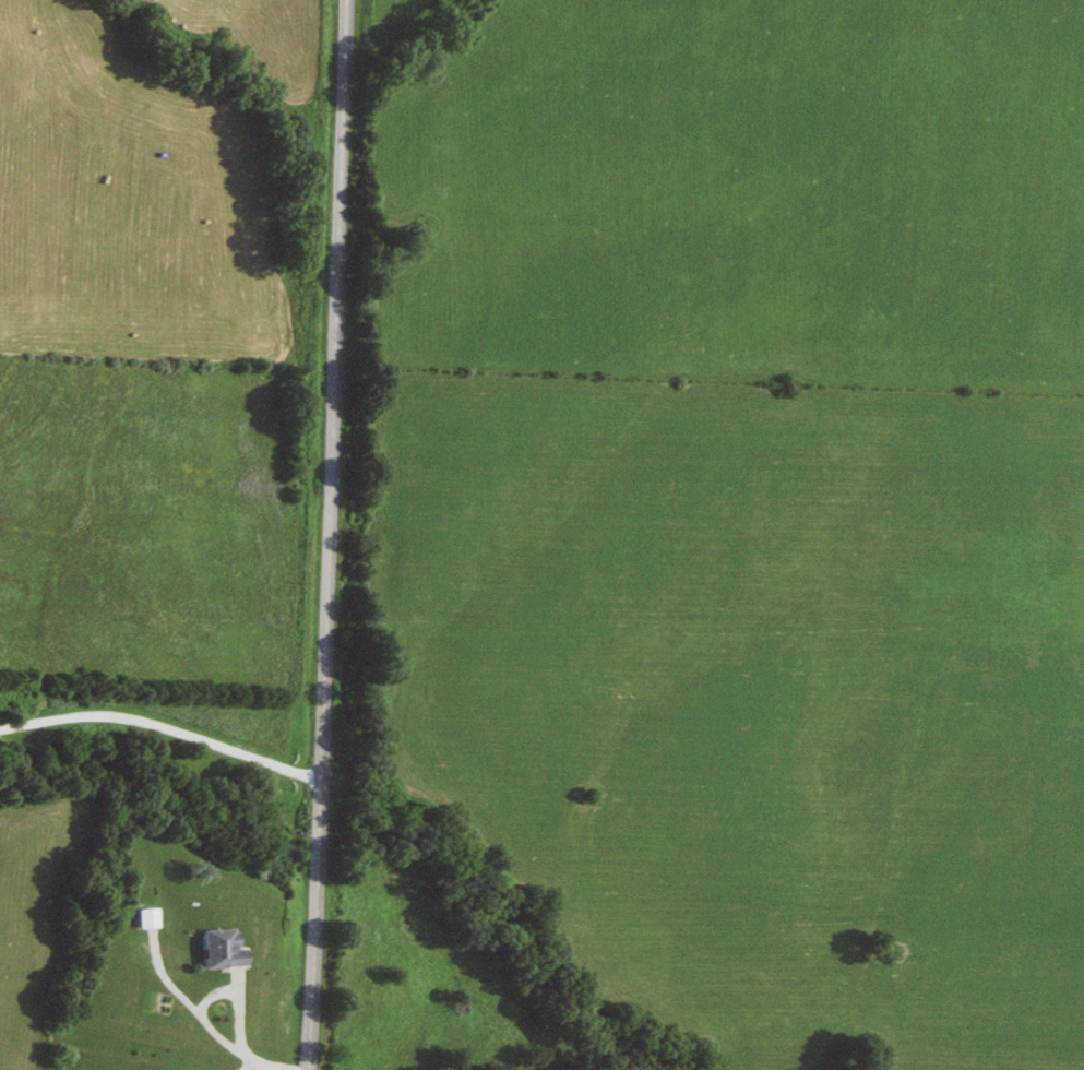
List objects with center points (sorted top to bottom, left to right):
road: (331, 535)
road: (163, 732)
building: (142, 918)
building: (214, 949)

